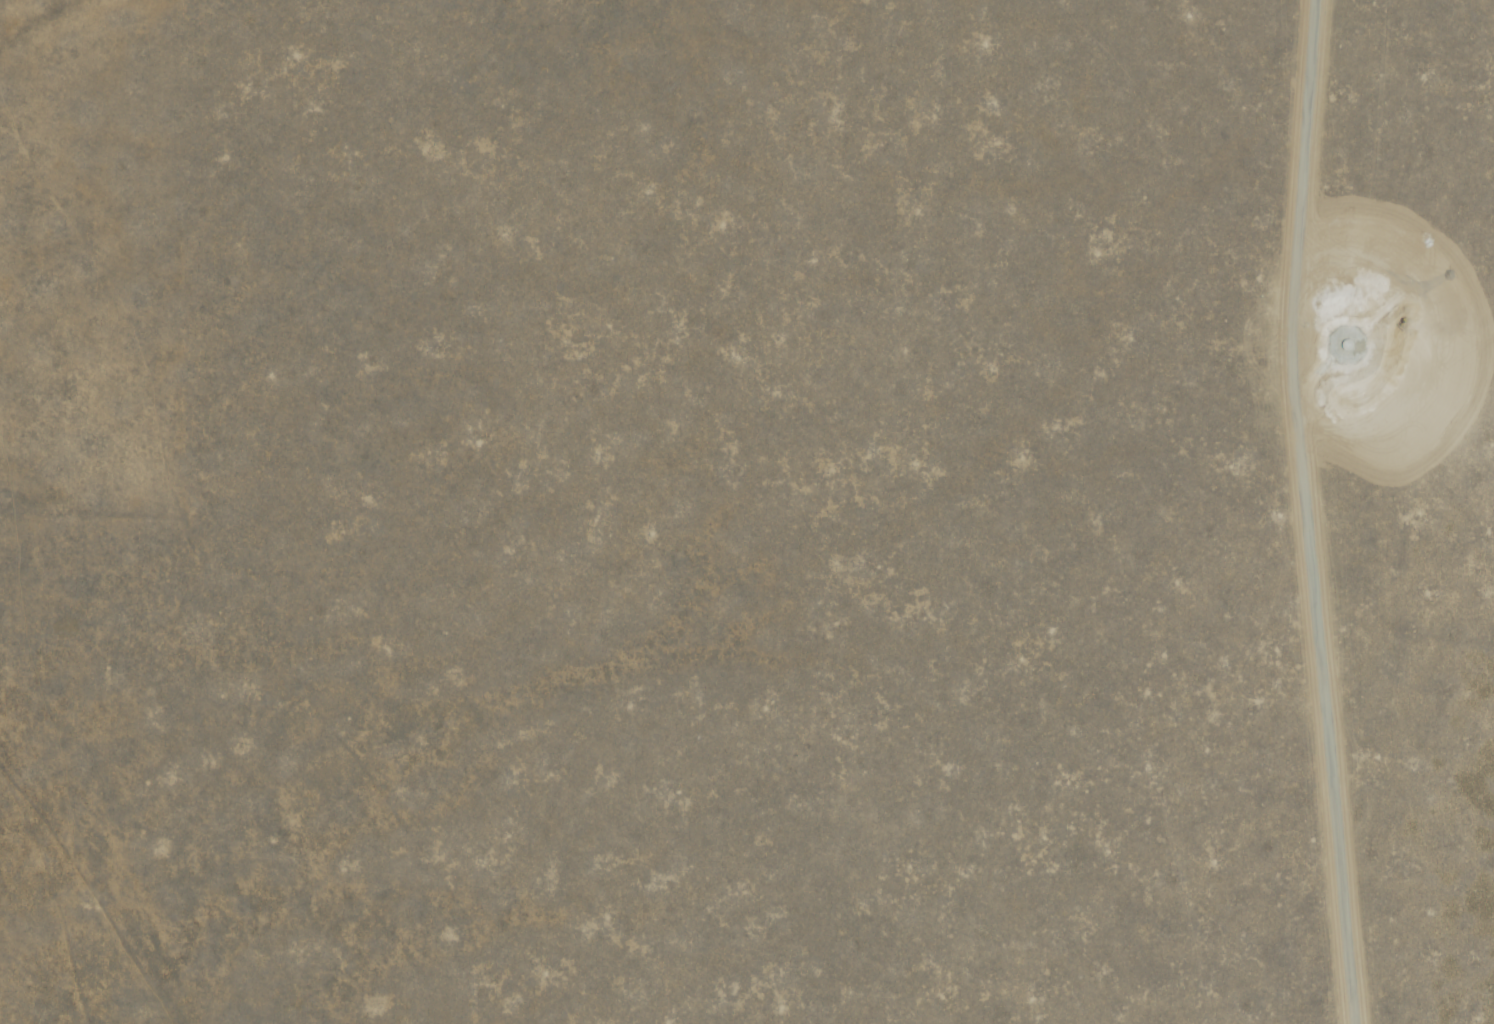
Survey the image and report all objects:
wind turbine: (1367, 343)

